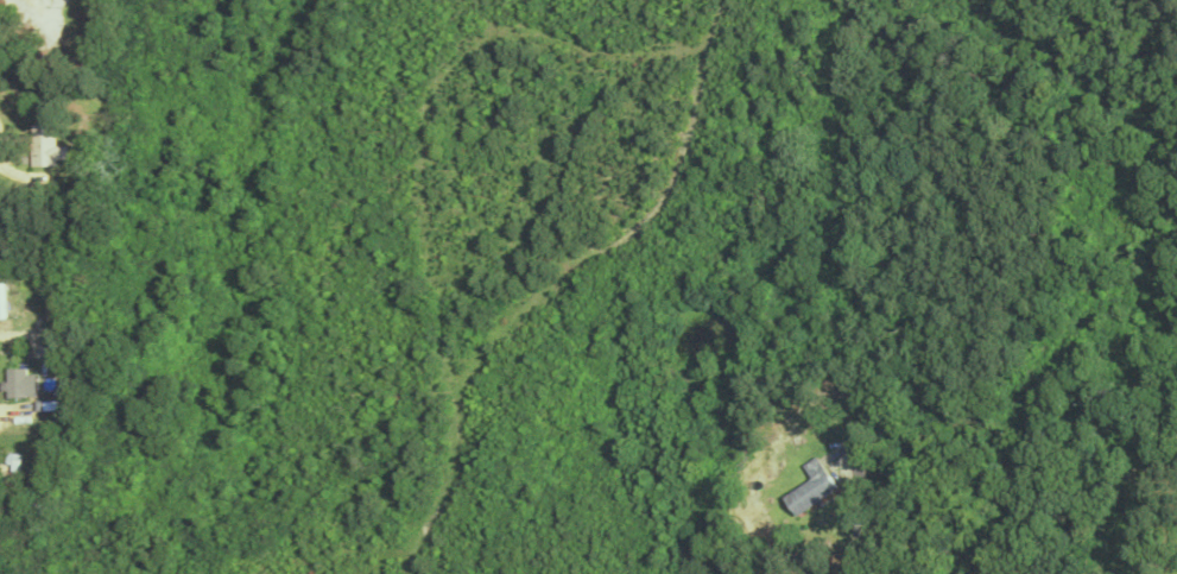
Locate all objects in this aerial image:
building: (43, 145)
building: (21, 381)
building: (10, 471)
building: (811, 487)
road: (856, 526)

